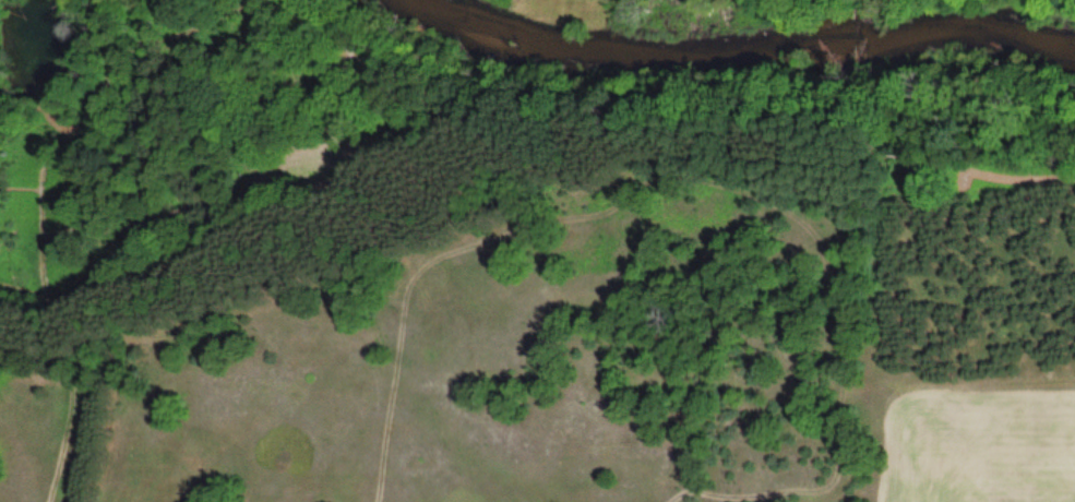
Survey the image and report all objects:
river: (732, 47)

